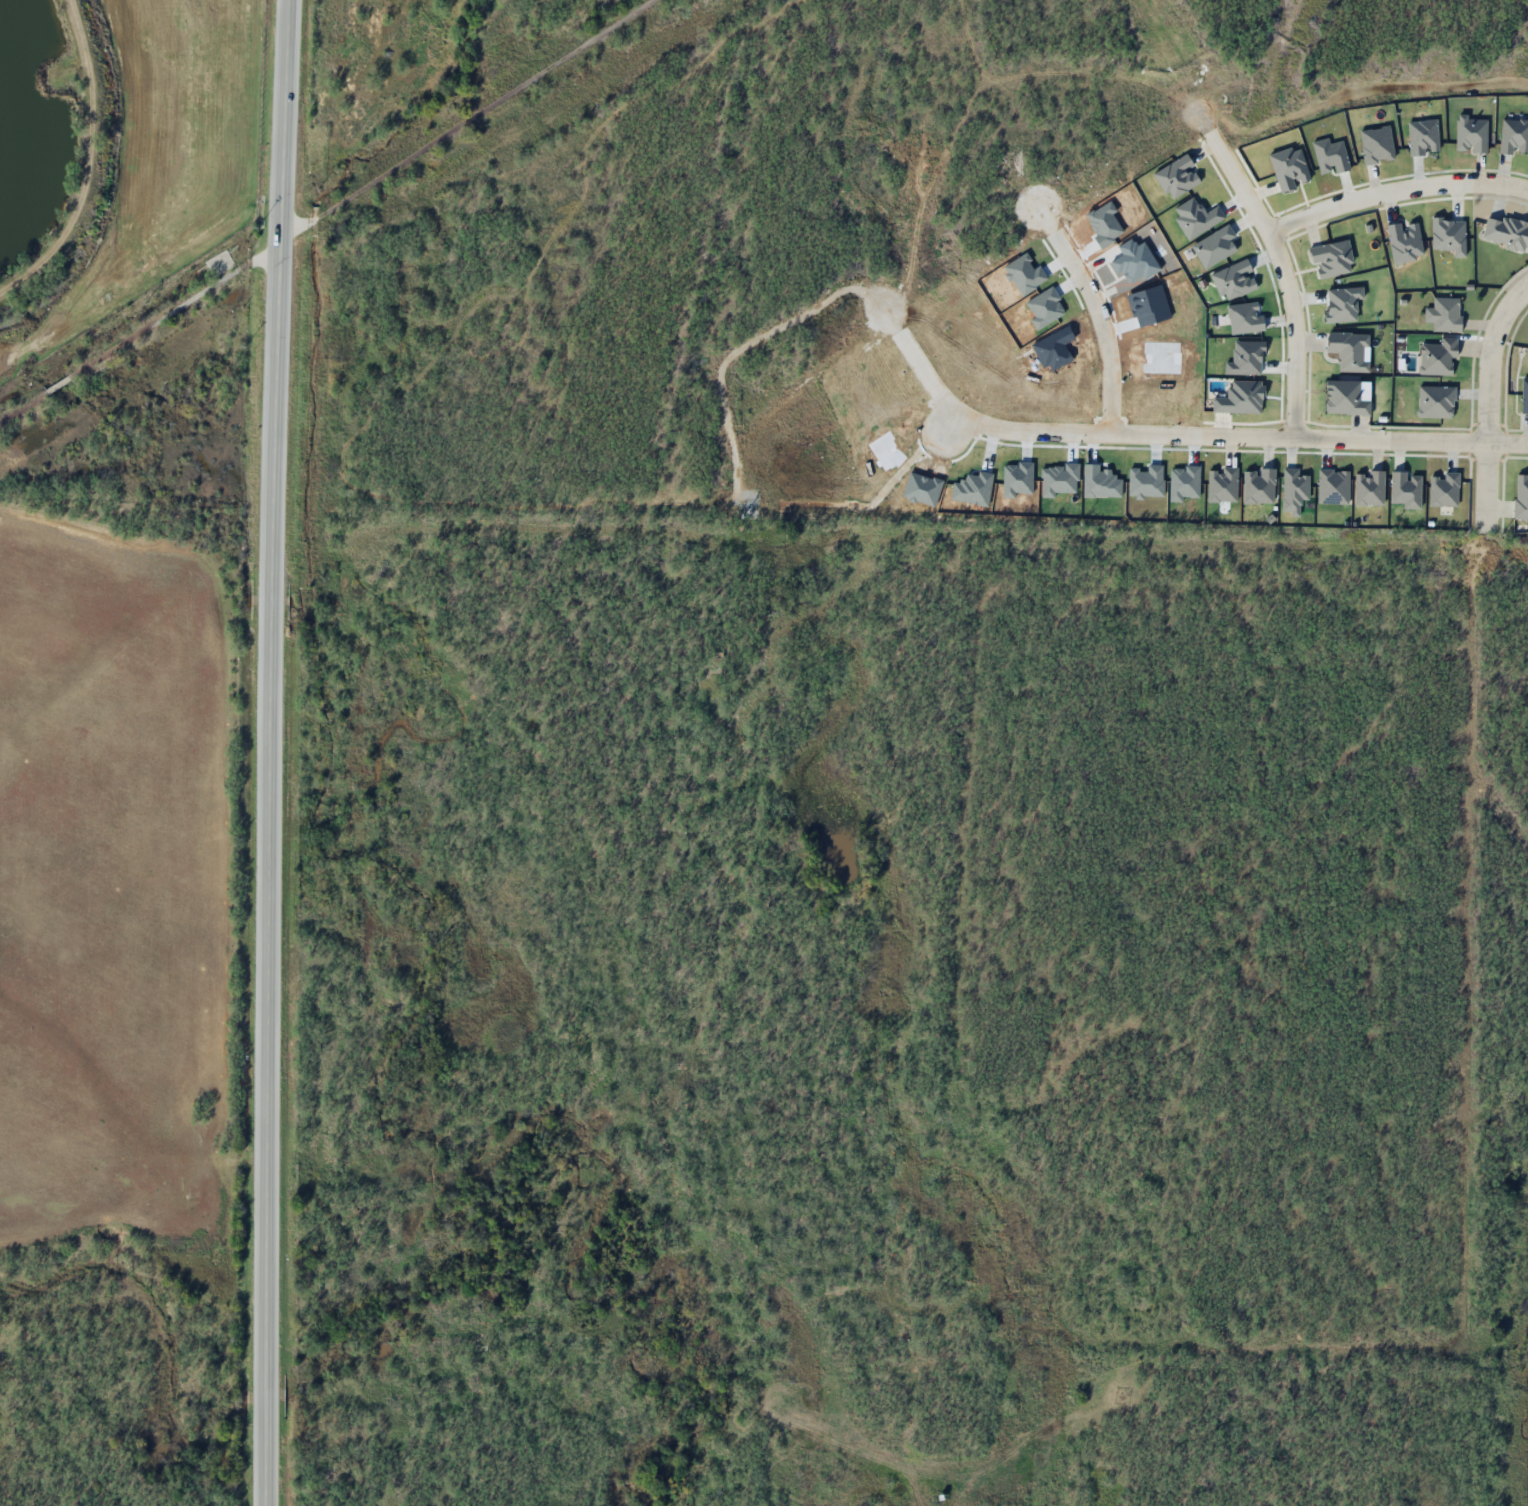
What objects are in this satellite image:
road: (1393, 196)
building: (219, 263)
road: (1281, 277)
building: (1444, 315)
road: (1101, 333)
building: (1438, 357)
road: (1484, 396)
road: (1043, 424)
road: (1379, 438)
building: (1344, 541)
road: (274, 752)

